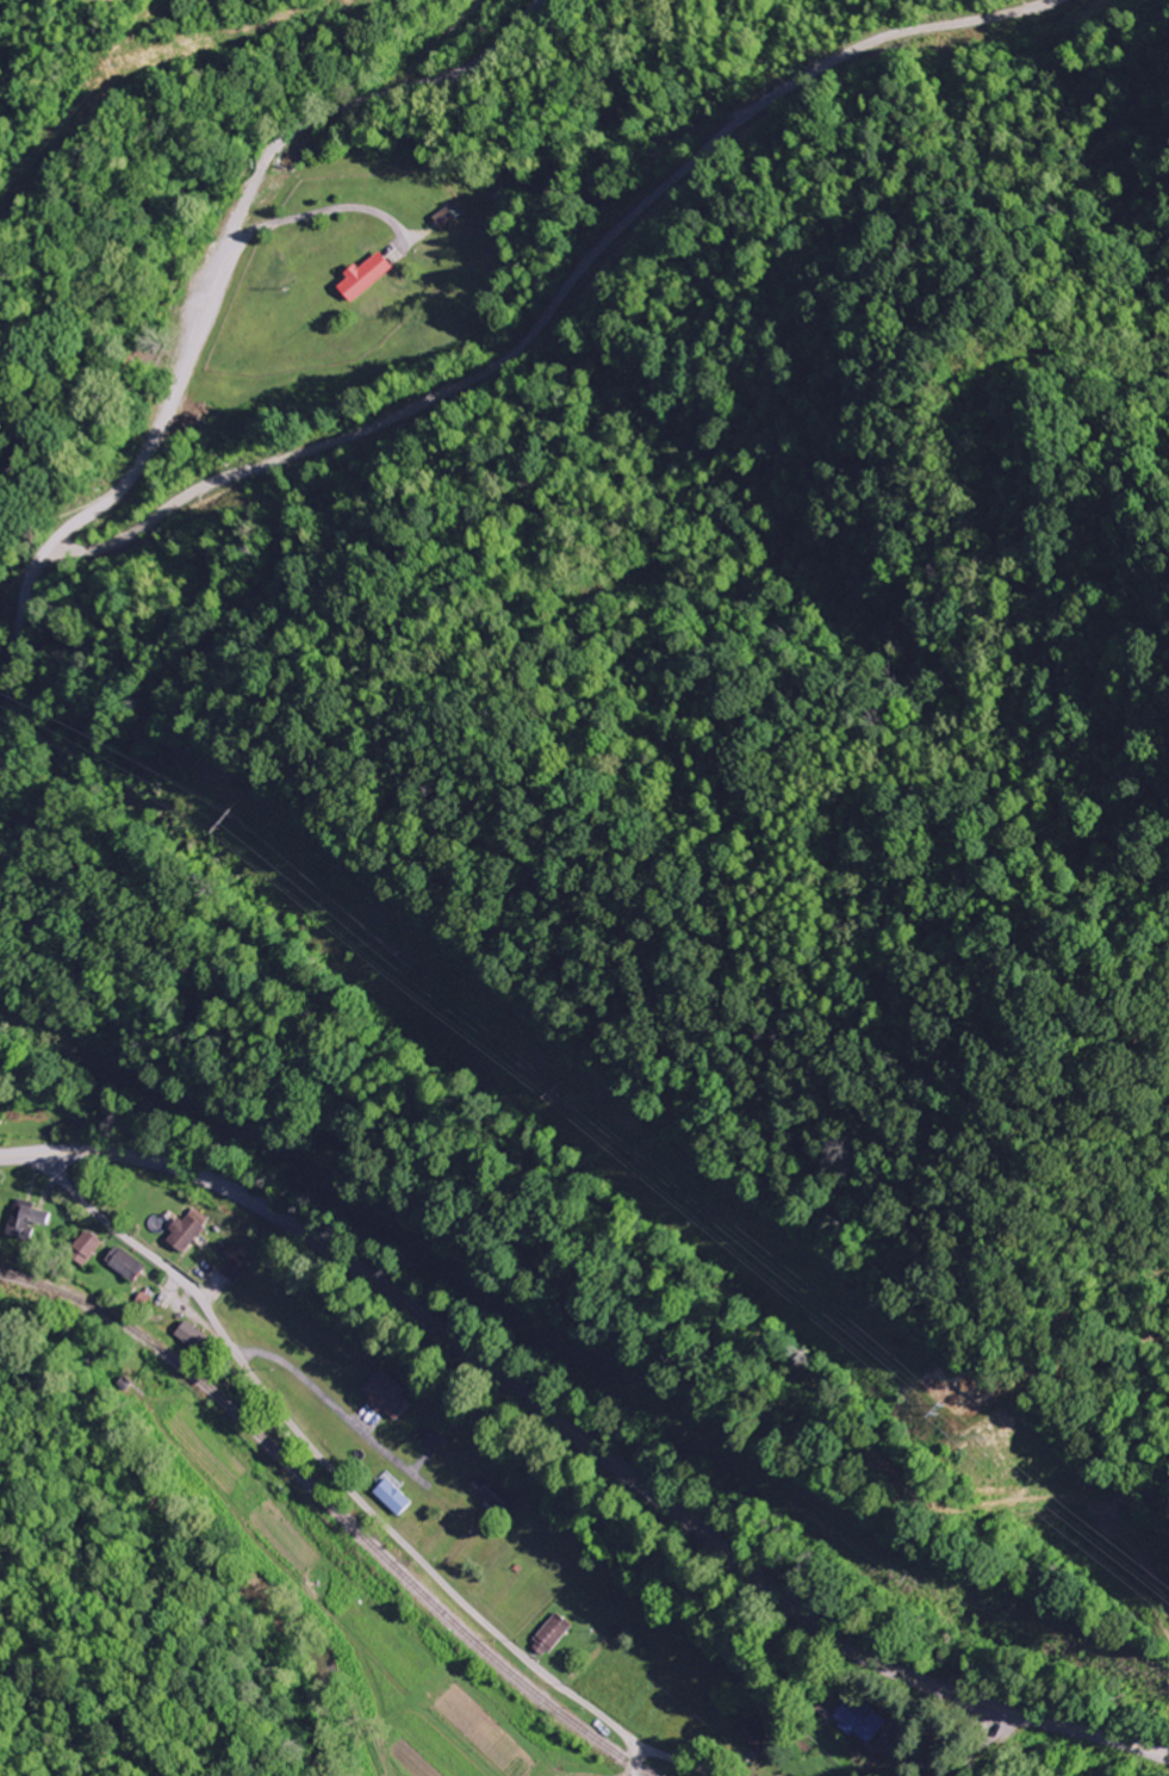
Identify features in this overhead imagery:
building: (361, 277)
road: (130, 474)
building: (25, 1221)
building: (182, 1230)
building: (83, 1247)
building: (123, 1263)
building: (188, 1335)
building: (381, 1395)
road: (586, 1441)
building: (429, 1442)
road: (330, 1466)
building: (489, 1495)
building: (388, 1497)
railway: (335, 1508)
building: (547, 1634)
building: (857, 1719)
building: (747, 1738)
road: (634, 1764)

